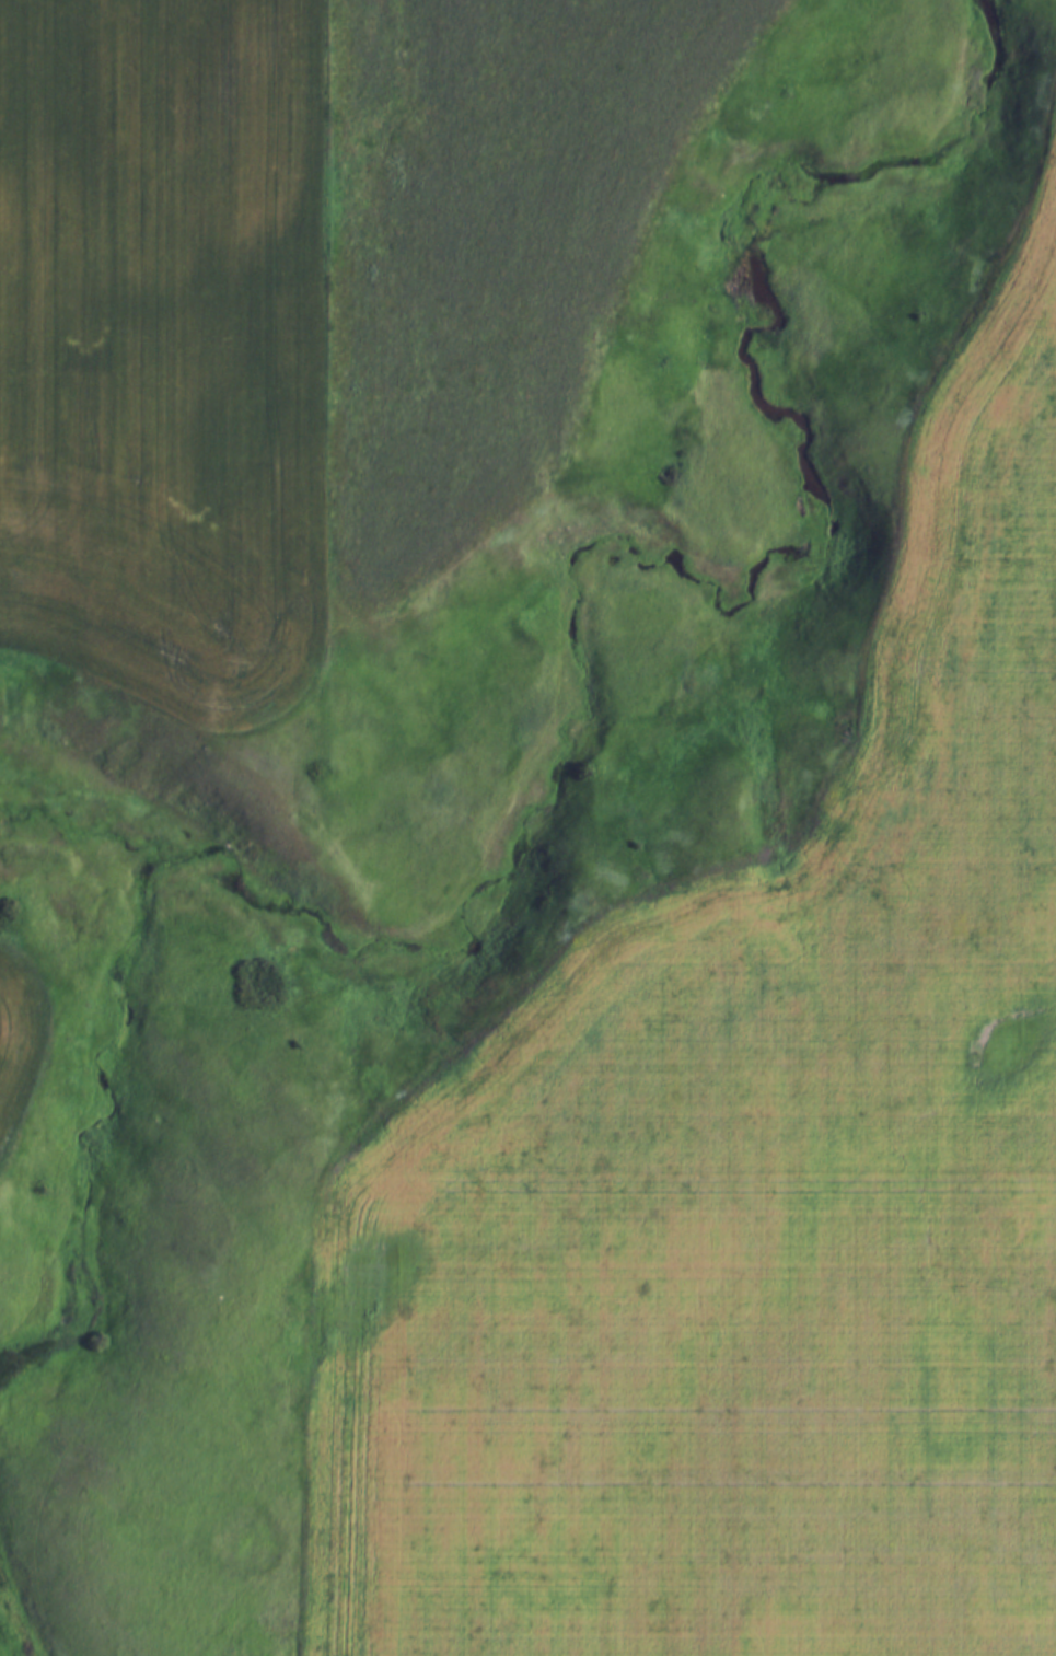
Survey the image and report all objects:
road: (654, 216)
road: (713, 310)

